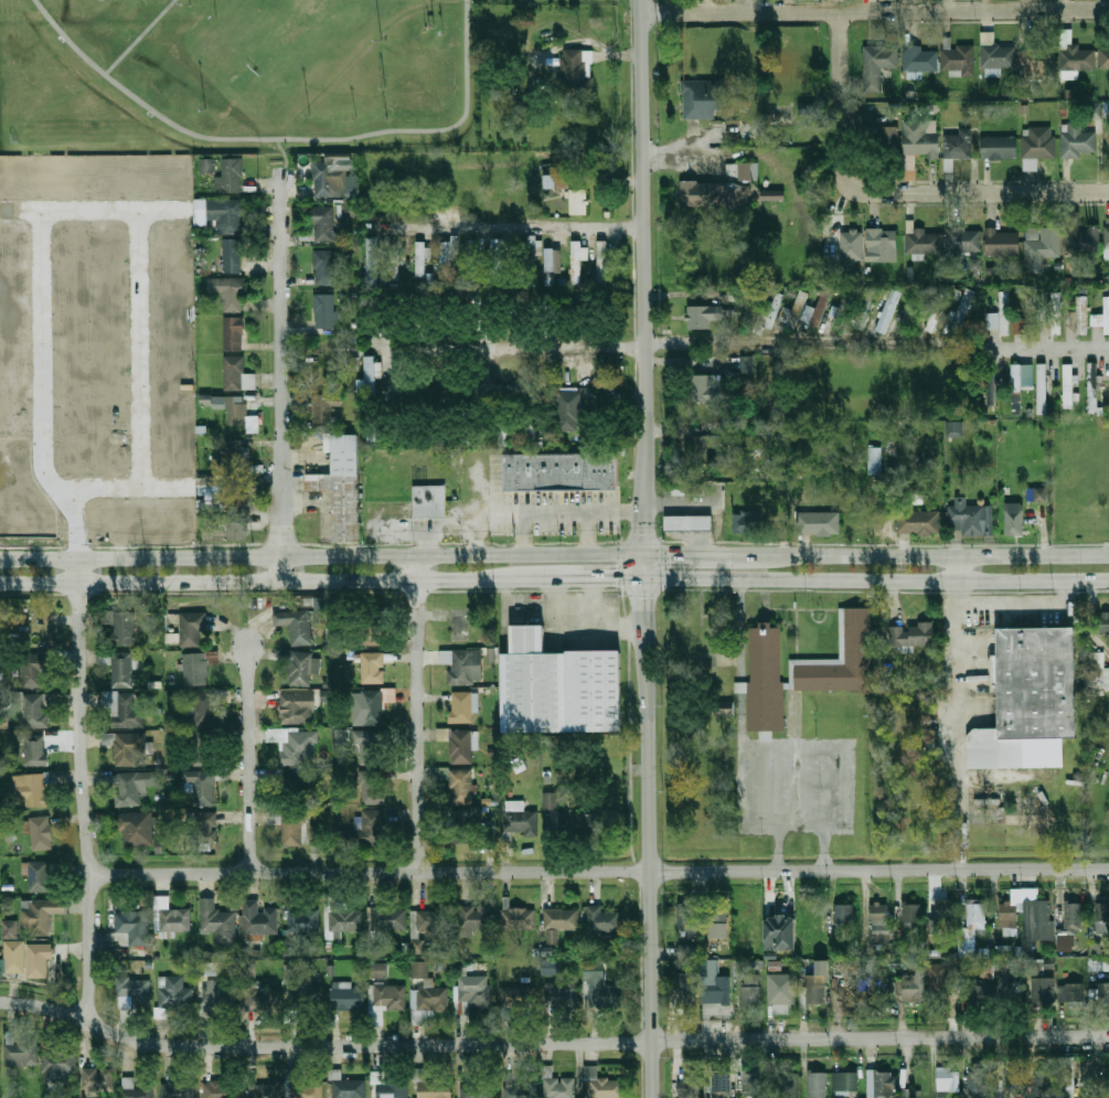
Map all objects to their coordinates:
park: (96, 1)
road: (873, 8)
road: (139, 36)
park: (295, 38)
building: (1074, 54)
building: (996, 57)
building: (1105, 58)
building: (919, 60)
building: (958, 60)
building: (1035, 61)
building: (878, 64)
building: (576, 71)
park: (241, 75)
building: (702, 98)
road: (840, 102)
building: (808, 108)
road: (284, 139)
building: (886, 140)
building: (921, 140)
building: (1077, 141)
building: (1038, 142)
building: (958, 143)
building: (999, 147)
road: (282, 154)
building: (205, 164)
building: (1030, 164)
building: (749, 171)
building: (230, 175)
building: (333, 180)
building: (555, 181)
road: (981, 192)
building: (704, 194)
building: (775, 195)
building: (578, 202)
building: (350, 210)
building: (225, 214)
building: (323, 223)
road: (514, 228)
building: (963, 239)
building: (1083, 239)
building: (921, 241)
building: (1042, 242)
building: (1002, 243)
building: (1107, 243)
building: (882, 244)
building: (853, 245)
road: (641, 248)
building: (232, 256)
building: (526, 257)
building: (420, 258)
building: (446, 258)
building: (497, 258)
building: (471, 262)
building: (371, 263)
building: (394, 263)
building: (576, 263)
building: (601, 263)
building: (974, 264)
building: (553, 266)
building: (323, 267)
building: (226, 292)
building: (795, 307)
building: (865, 308)
building: (888, 308)
building: (910, 308)
building: (772, 309)
building: (842, 310)
building: (959, 310)
building: (324, 311)
building: (935, 311)
building: (512, 312)
building: (1022, 313)
building: (1055, 313)
building: (999, 315)
building: (1079, 315)
building: (703, 316)
building: (1102, 316)
building: (813, 318)
building: (234, 333)
road: (664, 344)
road: (1046, 349)
building: (746, 364)
building: (237, 374)
building: (370, 375)
road: (281, 376)
building: (1019, 385)
building: (1067, 385)
building: (710, 388)
building: (1042, 388)
building: (1092, 388)
building: (989, 390)
building: (321, 408)
building: (236, 412)
building: (566, 412)
building: (252, 424)
building: (955, 429)
building: (503, 435)
building: (704, 445)
building: (236, 455)
building: (874, 460)
building: (562, 471)
building: (341, 488)
building: (689, 489)
building: (228, 495)
building: (429, 502)
road: (563, 512)
building: (968, 516)
building: (1014, 520)
building: (918, 522)
building: (689, 523)
building: (743, 523)
building: (818, 523)
road: (644, 524)
building: (235, 527)
road: (586, 532)
traffic signals: (646, 534)
road: (642, 539)
traffic signals: (671, 552)
road: (687, 552)
road: (767, 552)
road: (955, 553)
road: (322, 556)
road: (644, 563)
road: (662, 564)
road: (956, 568)
traffic signals: (617, 576)
road: (573, 577)
road: (876, 580)
road: (250, 582)
road: (554, 591)
traffic signals: (644, 598)
building: (321, 609)
parking lot: (1012, 610)
building: (1101, 622)
building: (295, 625)
building: (124, 627)
road: (644, 628)
building: (192, 629)
building: (841, 632)
building: (910, 635)
building: (372, 636)
building: (857, 636)
building: (460, 665)
building: (301, 668)
building: (372, 668)
building: (195, 669)
building: (121, 670)
road: (742, 670)
building: (32, 671)
building: (1096, 673)
building: (766, 680)
building: (1036, 682)
building: (558, 686)
building: (740, 686)
building: (374, 705)
building: (297, 707)
building: (462, 707)
building: (36, 710)
building: (120, 710)
building: (203, 710)
road: (417, 713)
road: (956, 725)
building: (442, 734)
building: (370, 746)
building: (299, 747)
building: (461, 747)
building: (129, 748)
building: (202, 748)
building: (34, 749)
building: (1013, 751)
road: (758, 758)
road: (249, 760)
building: (294, 783)
parking lot: (793, 783)
building: (459, 785)
building: (201, 786)
building: (132, 787)
building: (373, 787)
road: (84, 788)
building: (34, 789)
road: (835, 792)
building: (551, 800)
road: (627, 819)
building: (1030, 819)
building: (520, 820)
road: (801, 821)
building: (578, 823)
building: (468, 824)
building: (205, 828)
building: (291, 828)
building: (137, 829)
building: (364, 831)
building: (41, 833)
building: (317, 834)
road: (598, 870)
building: (40, 876)
road: (649, 889)
building: (879, 913)
building: (943, 913)
building: (843, 914)
building: (910, 914)
building: (1009, 914)
building: (40, 915)
building: (975, 916)
building: (474, 917)
building: (1074, 917)
building: (258, 918)
building: (343, 918)
building: (387, 918)
building: (1102, 918)
building: (303, 919)
building: (518, 919)
building: (561, 919)
building: (686, 919)
building: (175, 920)
building: (429, 920)
building: (604, 920)
building: (719, 920)
building: (1037, 921)
building: (217, 923)
building: (134, 926)
building: (10, 929)
building: (780, 932)
building: (417, 946)
building: (683, 951)
building: (31, 957)
building: (1106, 963)
building: (419, 964)
building: (552, 967)
building: (378, 970)
building: (940, 981)
building: (748, 982)
building: (716, 984)
building: (599, 987)
building: (895, 987)
building: (134, 988)
building: (298, 988)
building: (913, 988)
building: (1043, 990)
building: (815, 991)
building: (173, 992)
building: (1070, 992)
building: (1103, 992)
building: (472, 994)
building: (561, 994)
building: (781, 994)
building: (216, 995)
building: (345, 996)
building: (683, 996)
building: (982, 996)
building: (519, 998)
building: (259, 999)
building: (385, 1001)
building: (427, 1002)
road: (551, 1041)
building: (21, 1053)
building: (56, 1066)
building: (1067, 1077)
building: (1013, 1078)
building: (97, 1079)
building: (948, 1079)
building: (753, 1081)
building: (845, 1081)
building: (722, 1083)
building: (978, 1083)
building: (1042, 1083)
building: (817, 1085)
building: (884, 1085)
building: (302, 1086)
building: (604, 1086)
building: (786, 1086)
building: (387, 1087)
building: (349, 1088)
building: (435, 1088)
building: (558, 1088)
building: (135, 1089)
building: (177, 1089)
building: (218, 1089)
building: (263, 1089)
building: (522, 1089)
building: (477, 1090)
building: (687, 1091)

